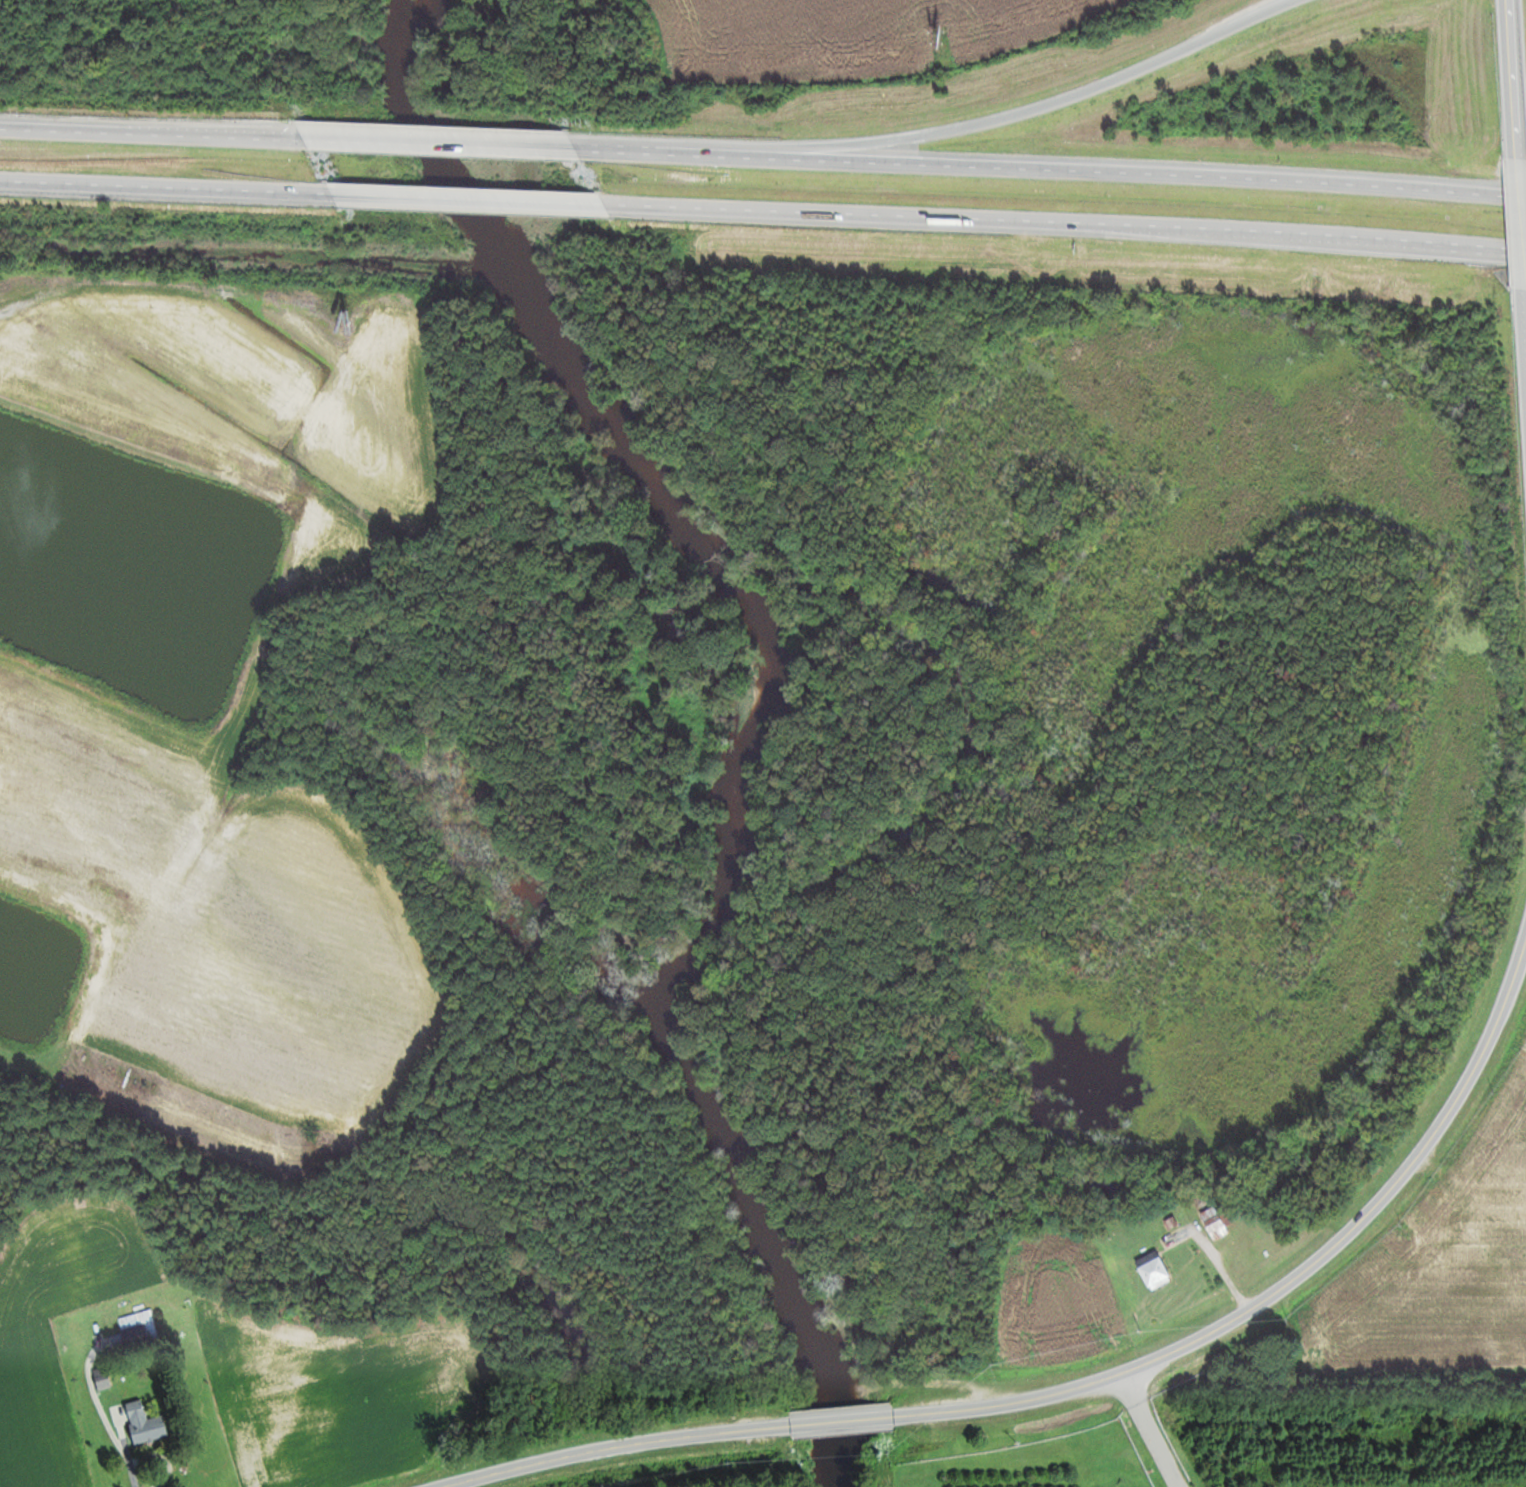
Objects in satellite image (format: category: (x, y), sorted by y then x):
road: (1518, 80)
road: (971, 128)
road: (34, 131)
road: (185, 136)
road: (437, 144)
road: (595, 150)
road: (1071, 172)
road: (1525, 179)
road: (165, 189)
building: (574, 198)
road: (468, 201)
road: (842, 215)
road: (1292, 239)
road: (1516, 254)
road: (1516, 255)
building: (355, 316)
river: (761, 708)
building: (1519, 1154)
building: (1216, 1224)
road: (1475, 1231)
building: (1503, 1235)
building: (1155, 1271)
road: (1287, 1284)
building: (138, 1331)
building: (104, 1378)
building: (148, 1423)
road: (840, 1423)
road: (616, 1448)

